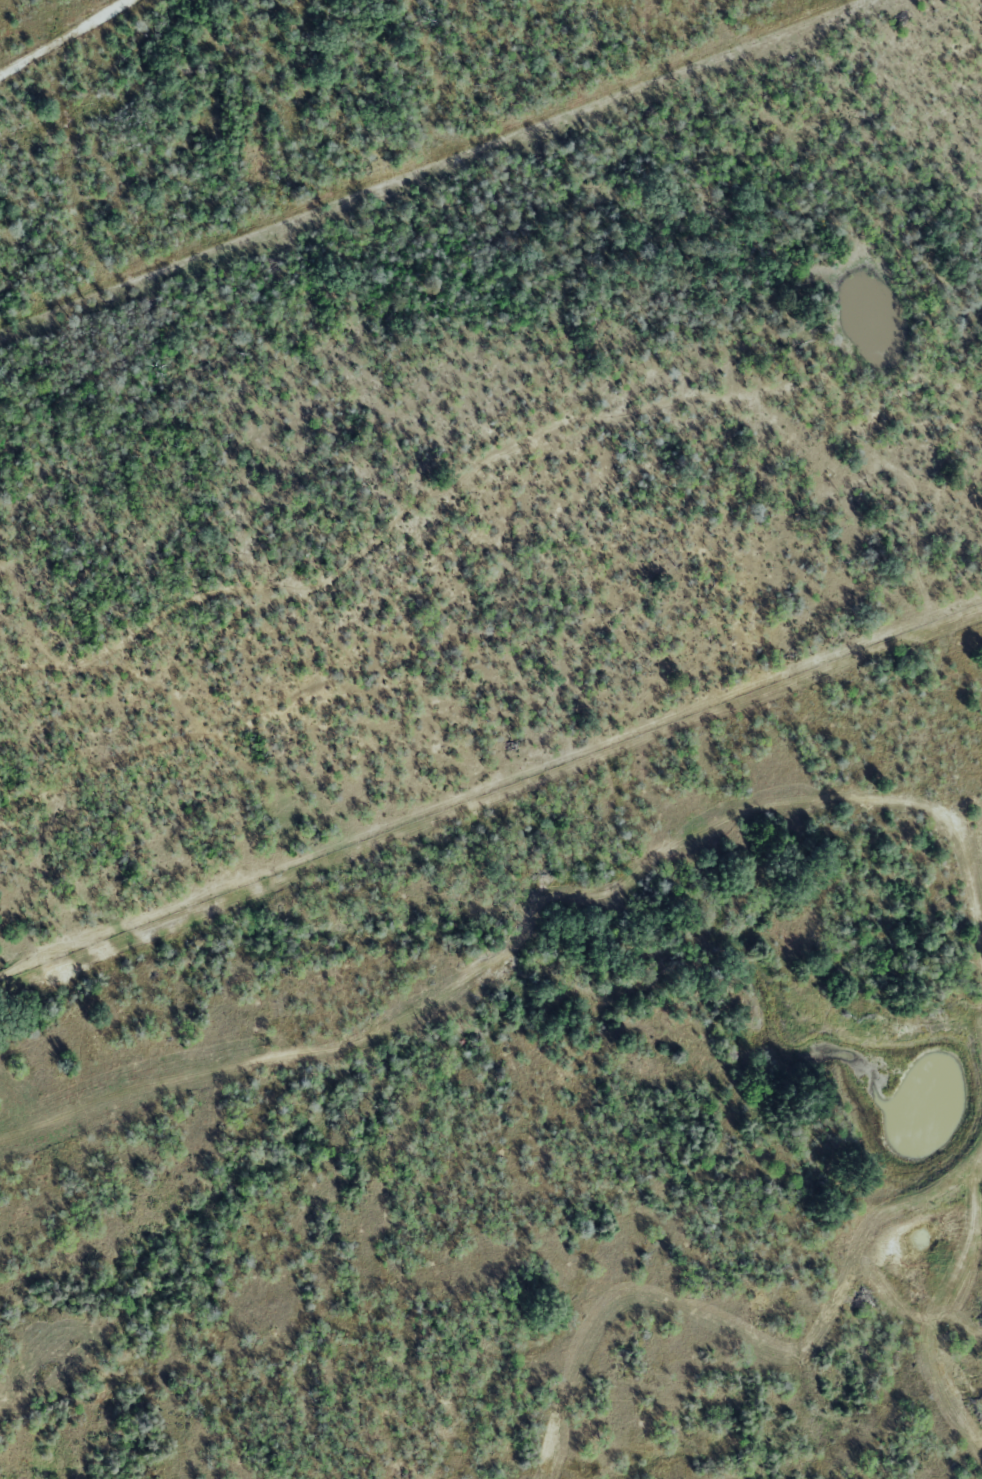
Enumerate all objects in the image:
road: (64, 38)

